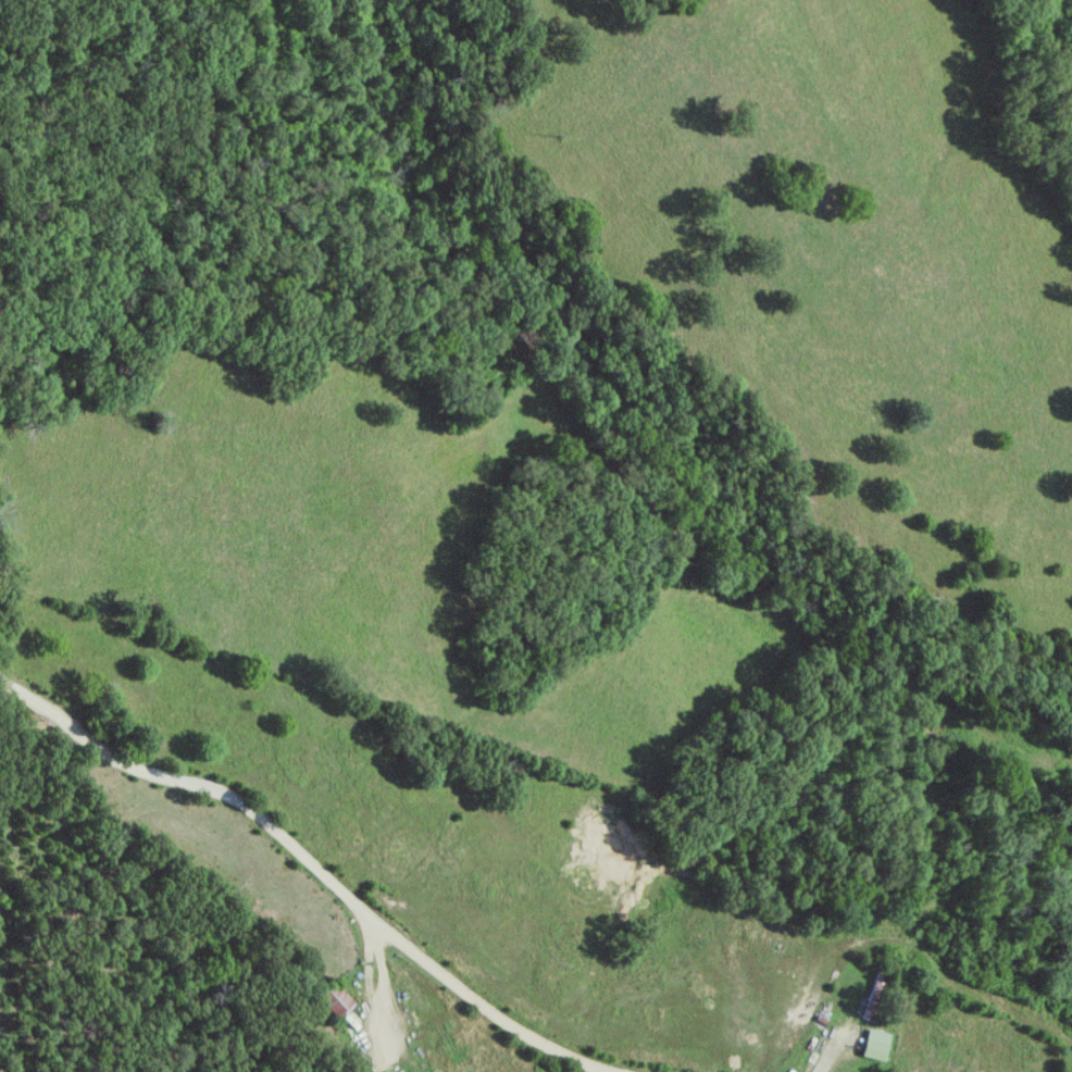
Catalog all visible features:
road: (314, 863)
building: (872, 1046)

